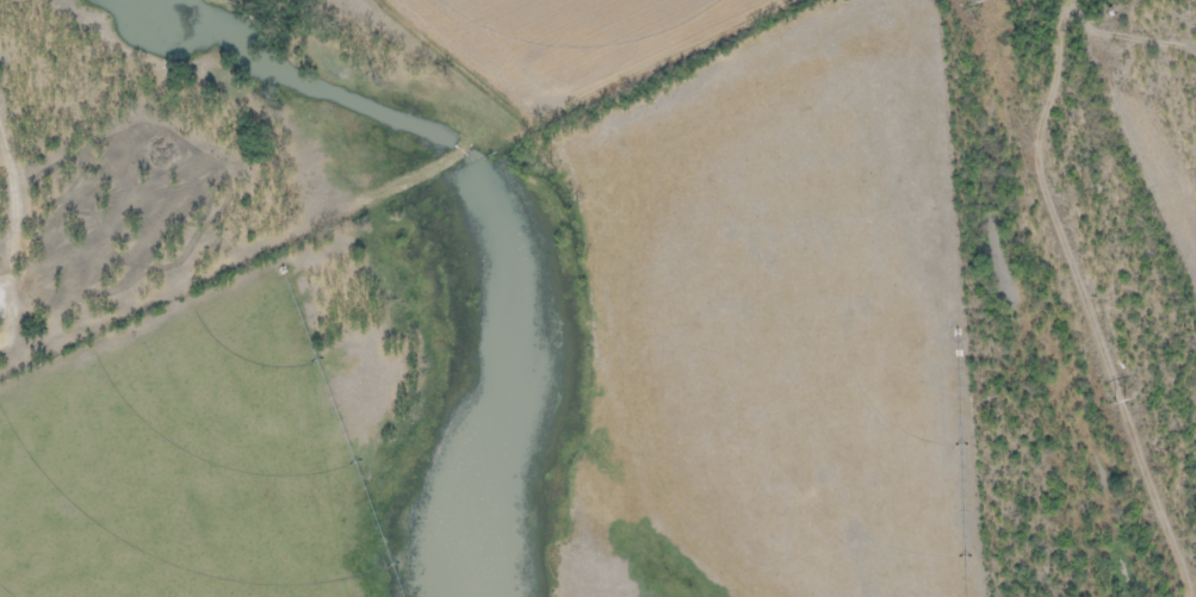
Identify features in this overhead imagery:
power tower: (979, 0)
power tower: (1117, 398)

